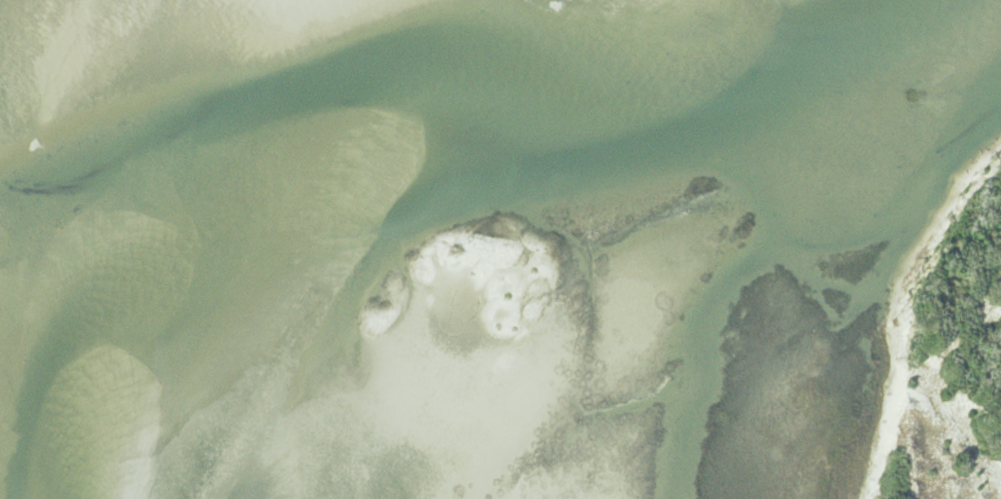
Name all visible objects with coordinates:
park: (944, 354)

